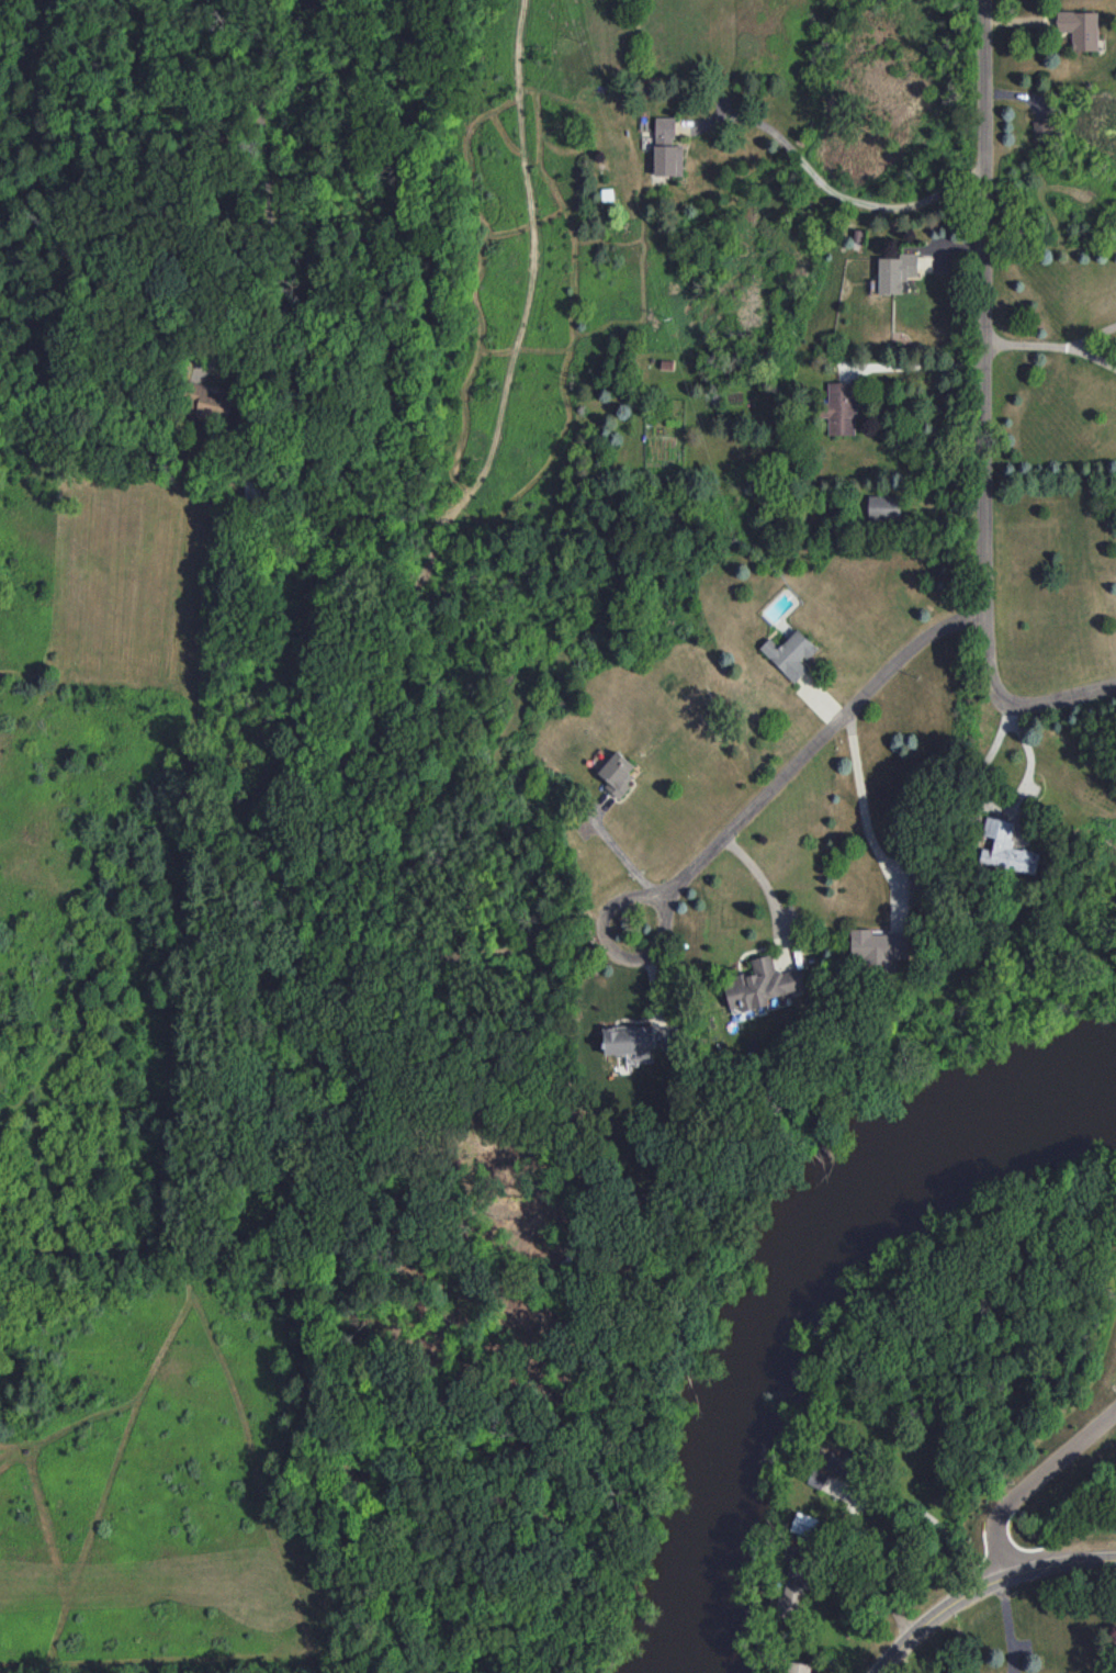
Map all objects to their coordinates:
building: (1080, 29)
building: (1041, 131)
building: (666, 148)
road: (841, 195)
building: (897, 271)
road: (1092, 336)
road: (1025, 345)
road: (981, 352)
road: (1093, 360)
road: (917, 367)
building: (206, 402)
building: (839, 408)
building: (884, 506)
building: (790, 654)
road: (1060, 698)
road: (811, 748)
building: (617, 774)
road: (1007, 802)
road: (858, 805)
building: (1006, 849)
road: (765, 885)
road: (605, 909)
building: (878, 946)
building: (760, 985)
building: (630, 1041)
river: (790, 1284)
park: (1004, 1371)
building: (830, 1468)
road: (1032, 1480)
road: (929, 1519)
road: (876, 1579)
building: (797, 1582)
road: (983, 1586)
building: (799, 1668)

